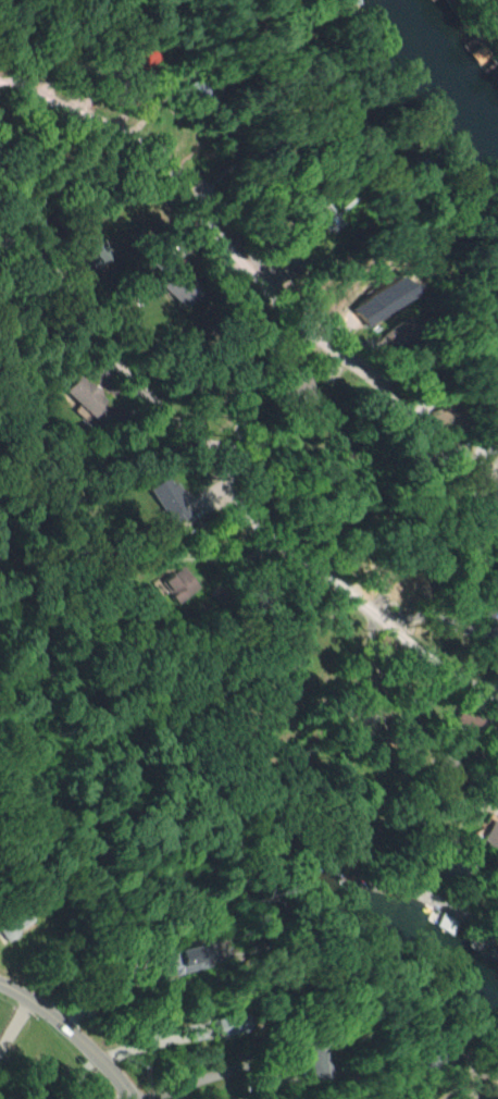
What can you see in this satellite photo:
road: (43, 44)
building: (318, 215)
road: (257, 282)
building: (377, 301)
road: (108, 351)
road: (240, 355)
building: (84, 396)
building: (173, 499)
building: (180, 584)
road: (344, 593)
building: (470, 719)
building: (491, 835)
building: (15, 930)
road: (71, 1034)
building: (315, 1064)

